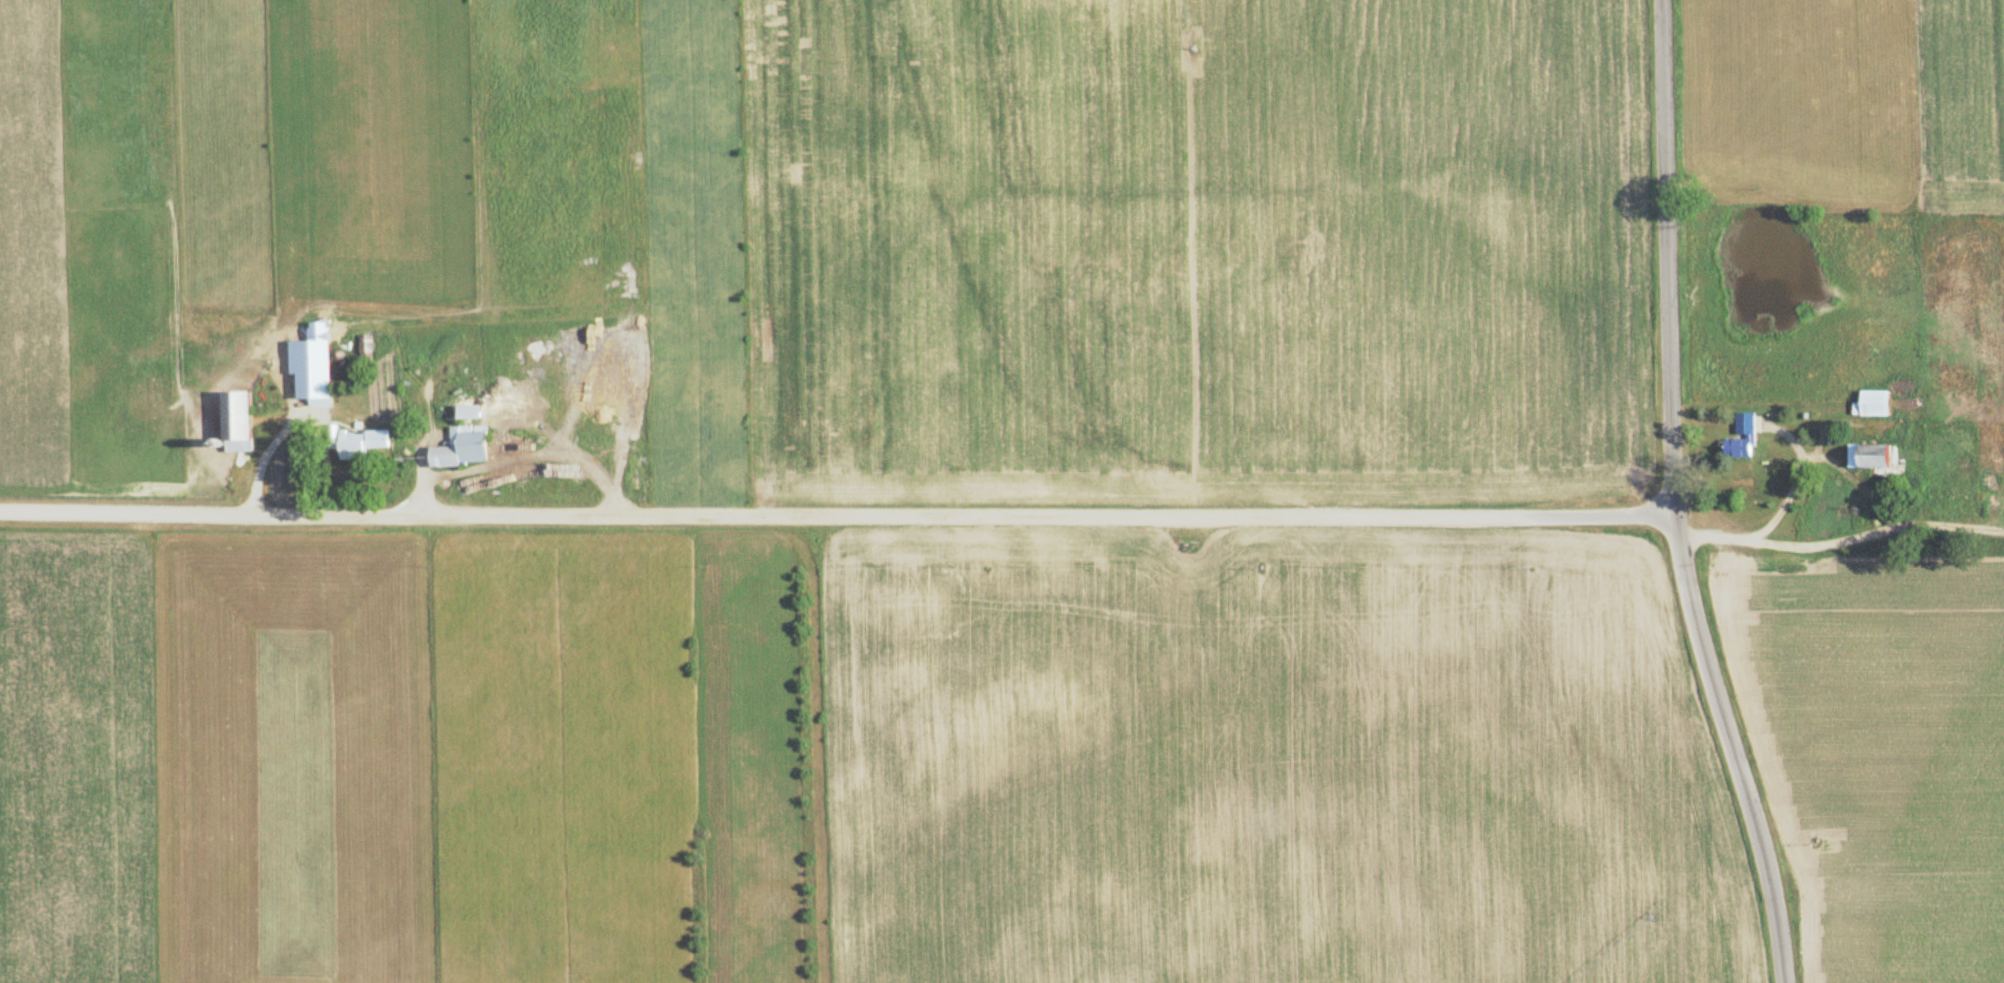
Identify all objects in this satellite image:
road: (1673, 268)
building: (298, 345)
building: (363, 348)
building: (1870, 404)
building: (234, 421)
building: (343, 434)
building: (1742, 435)
building: (442, 456)
building: (1867, 456)
road: (840, 511)
road: (1749, 536)
road: (1910, 536)
road: (1691, 570)
road: (1750, 791)

